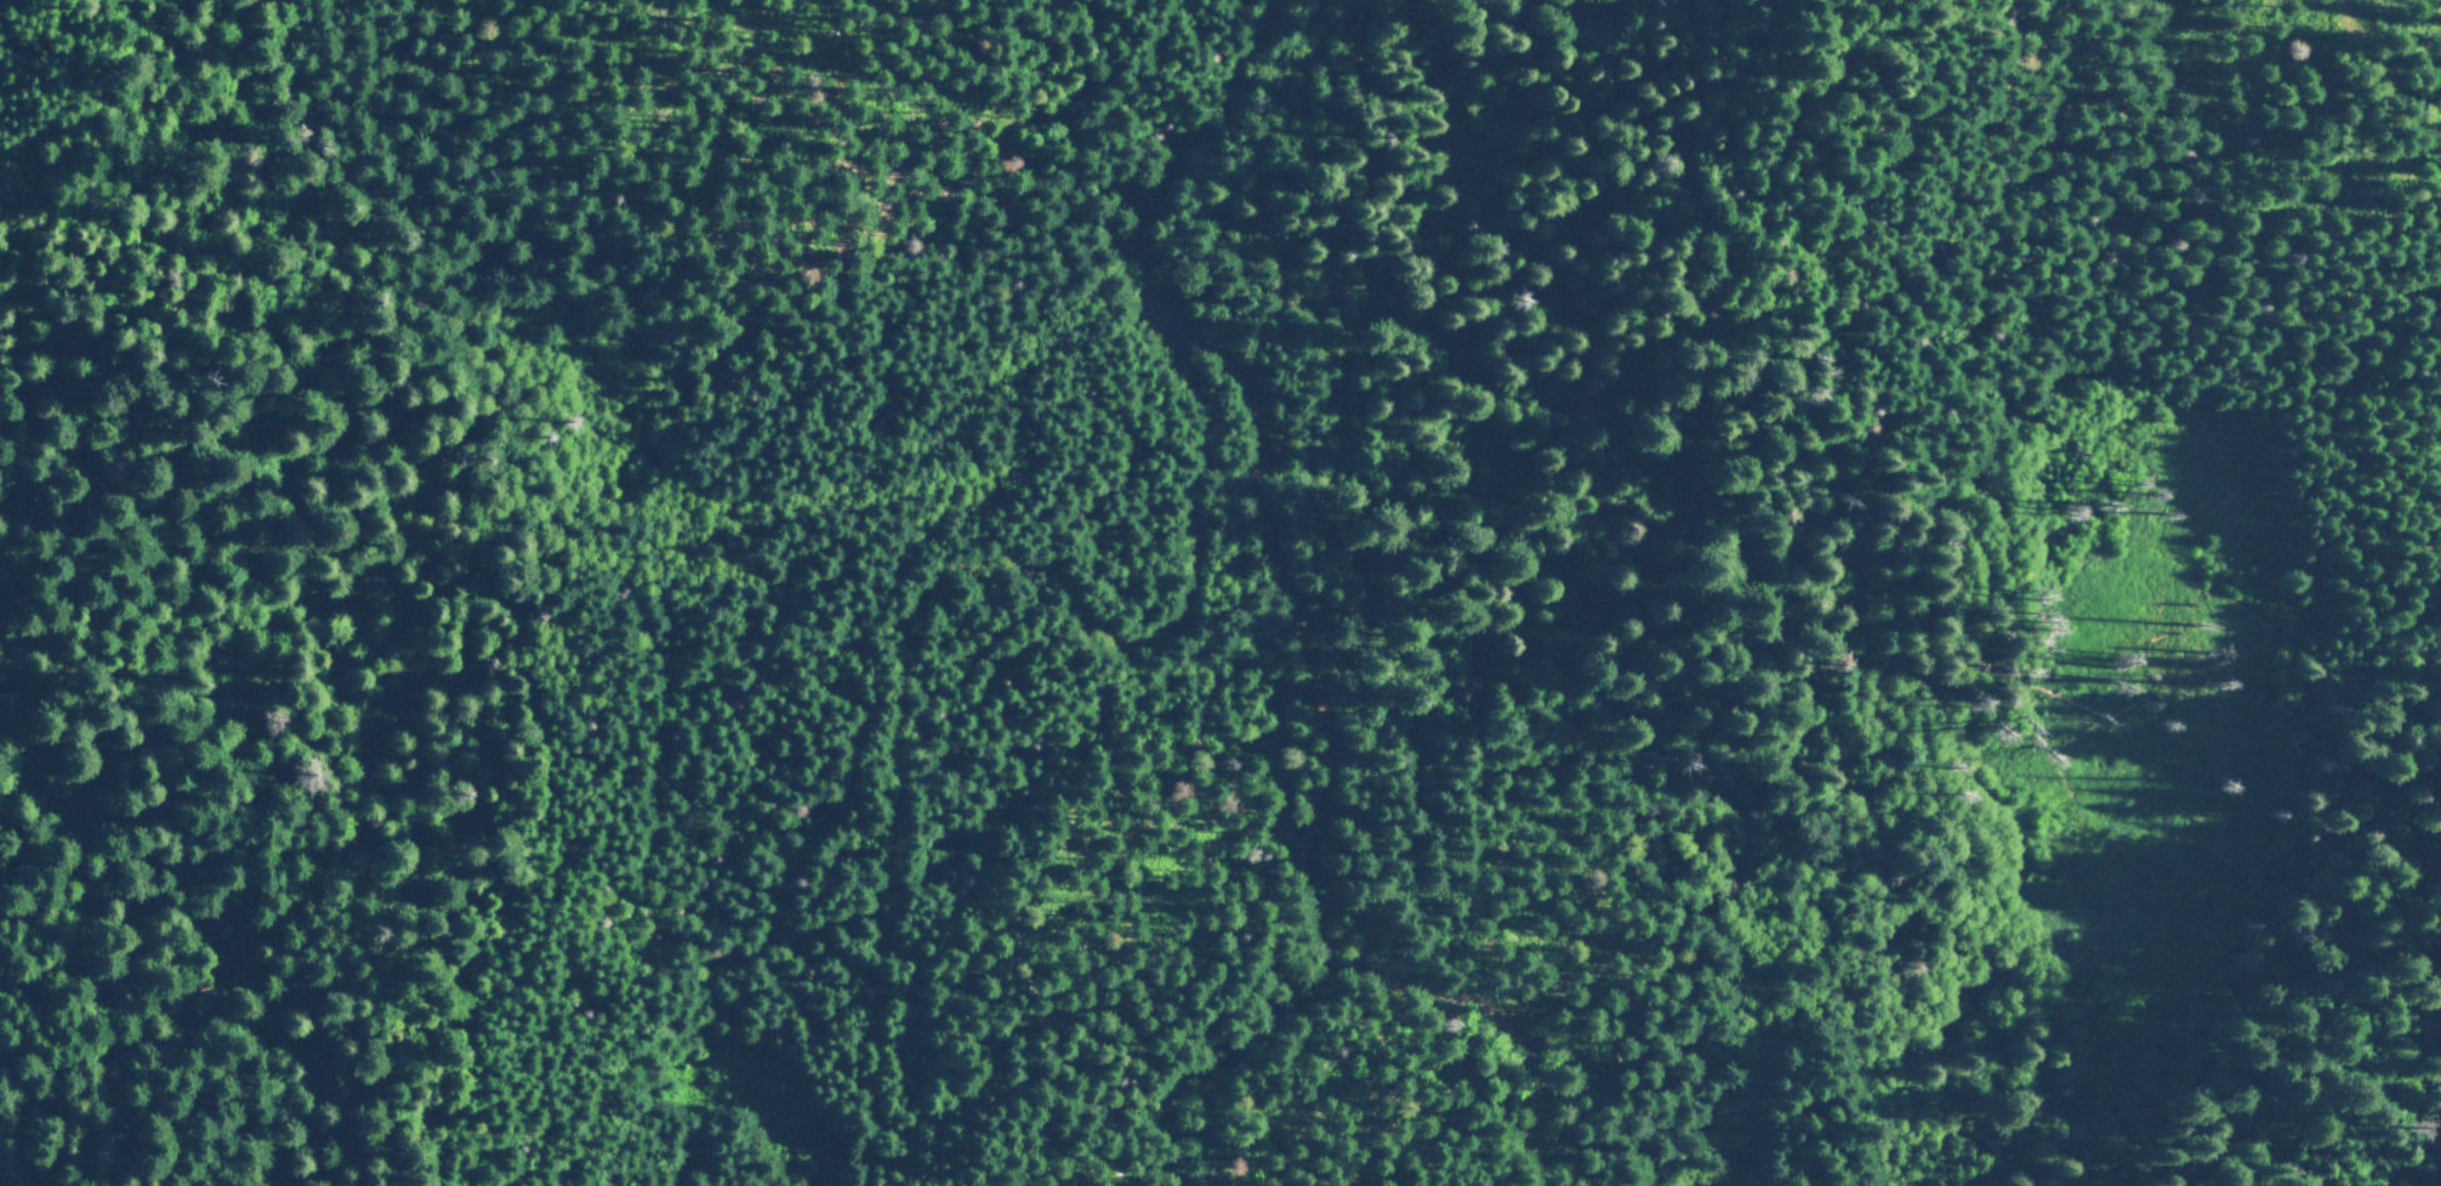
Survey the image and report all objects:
road: (1608, 15)
road: (1271, 599)

